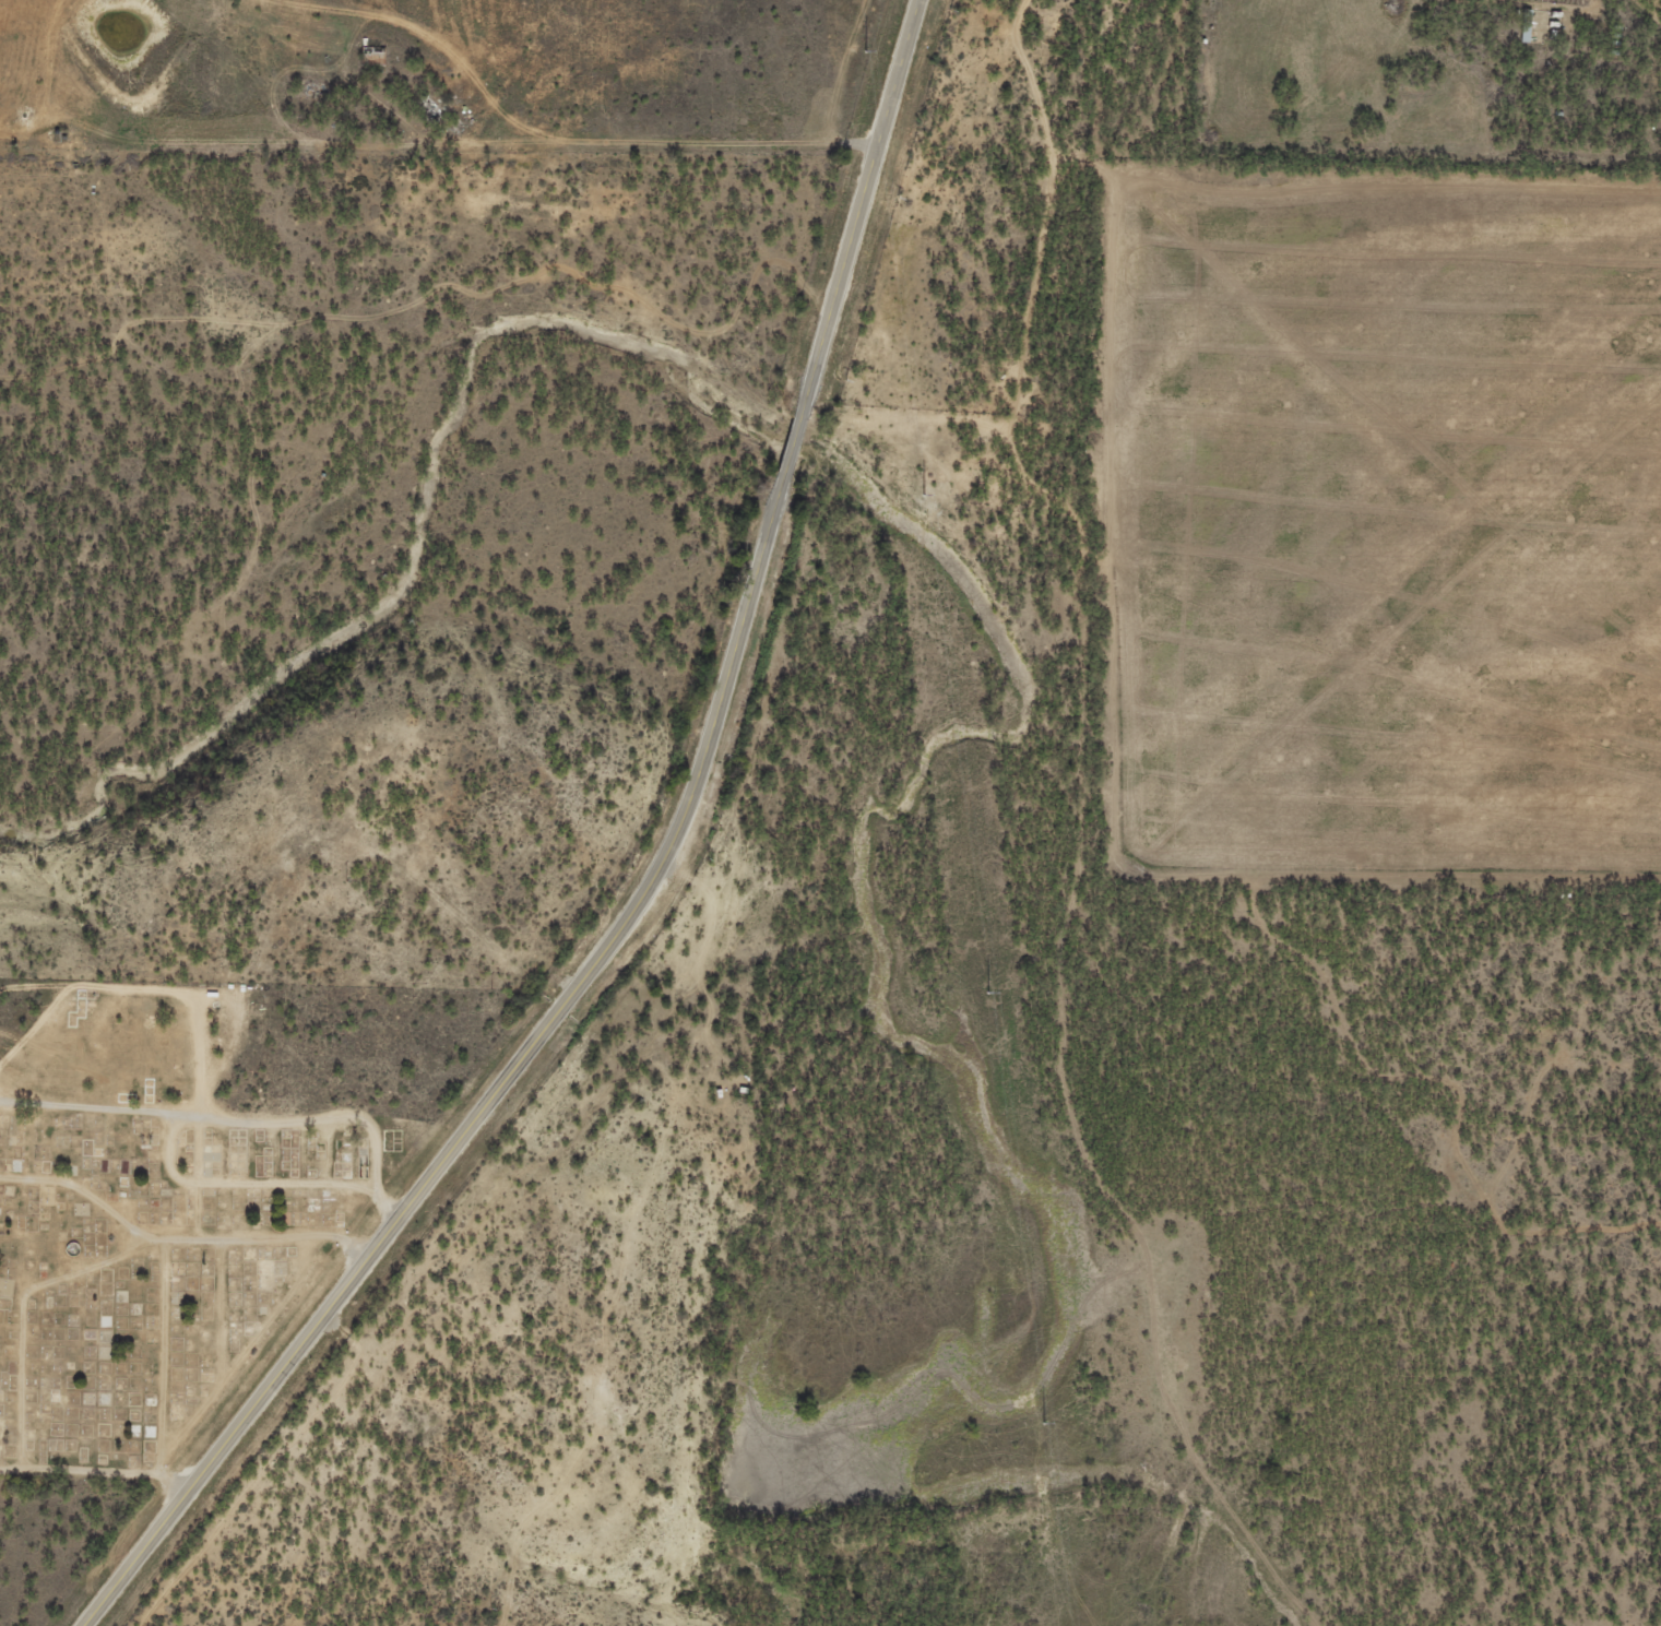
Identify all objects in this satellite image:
power tower: (867, 50)
power tower: (924, 494)
road: (648, 887)
power tower: (988, 992)
park: (192, 1187)
power tower: (1045, 1422)

